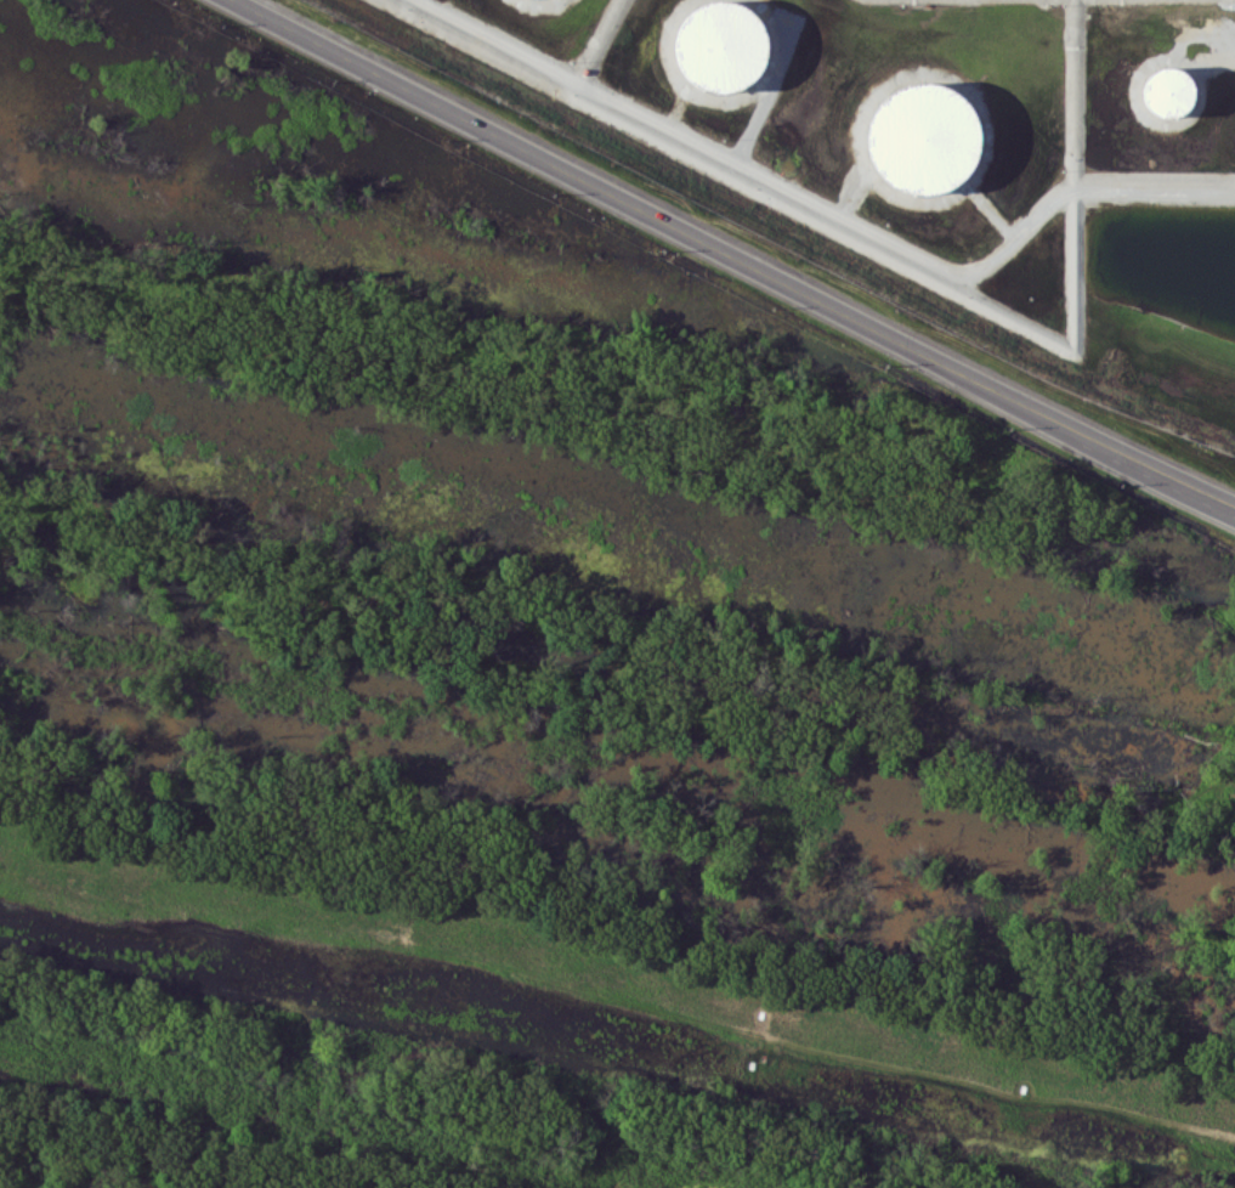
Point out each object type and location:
building: (719, 45)
building: (1168, 90)
building: (922, 138)
road: (731, 256)

